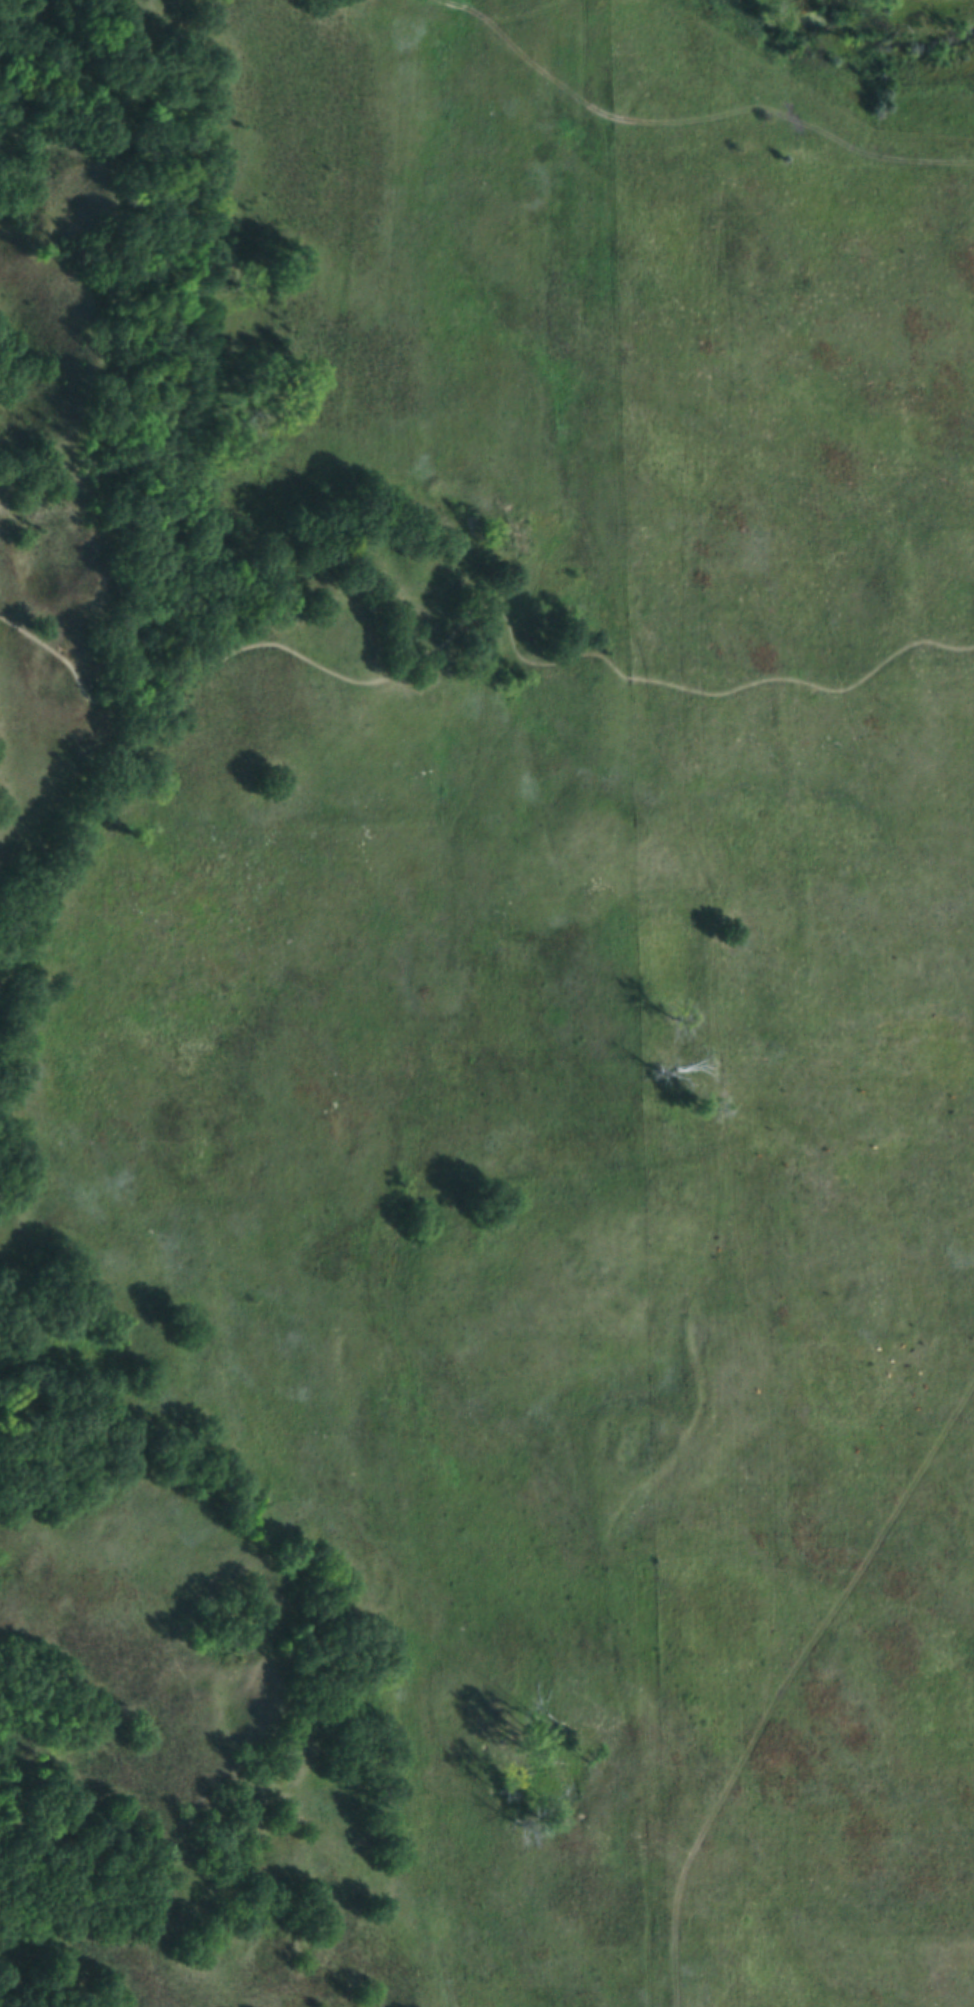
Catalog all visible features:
road: (480, 604)

